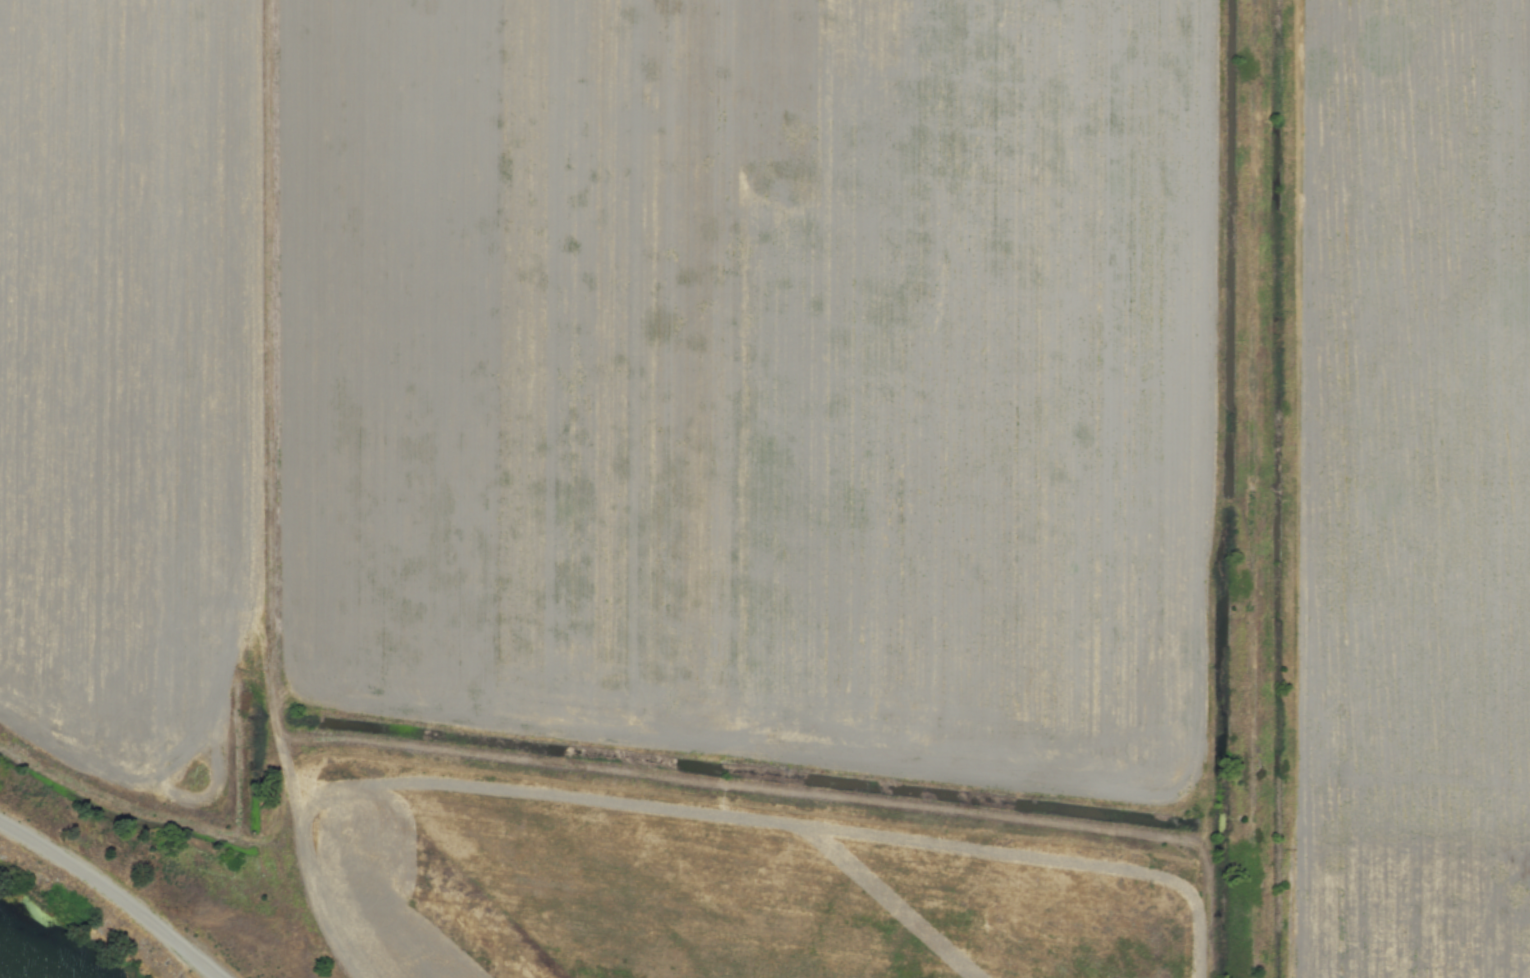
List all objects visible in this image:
road: (112, 899)

